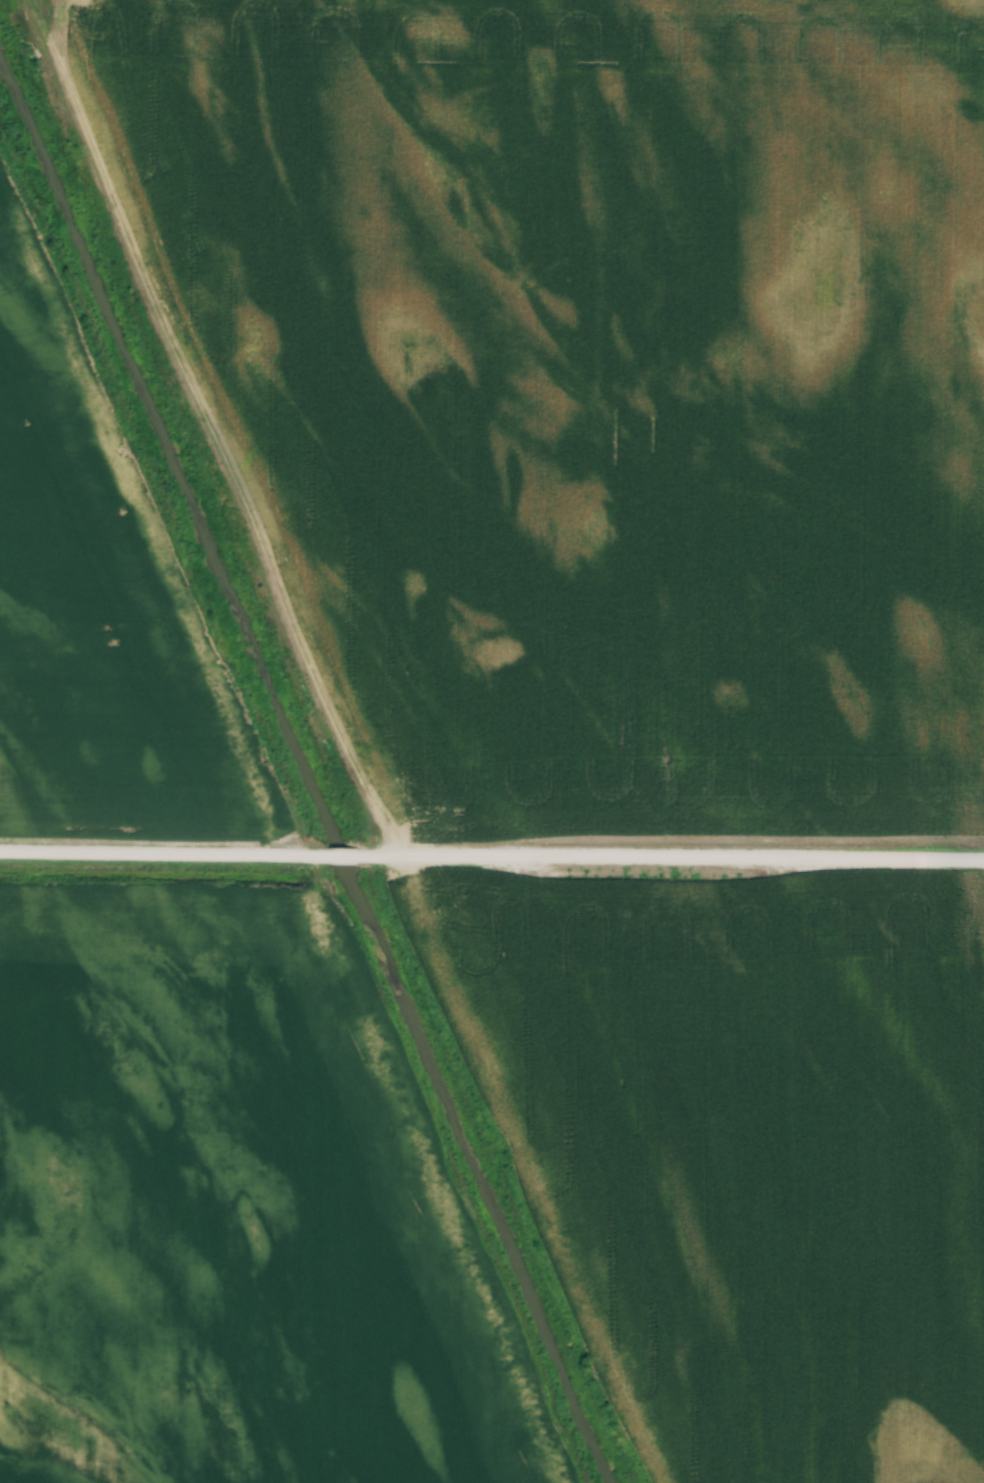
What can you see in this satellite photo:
road: (203, 425)
road: (162, 852)
road: (340, 853)
road: (669, 857)

